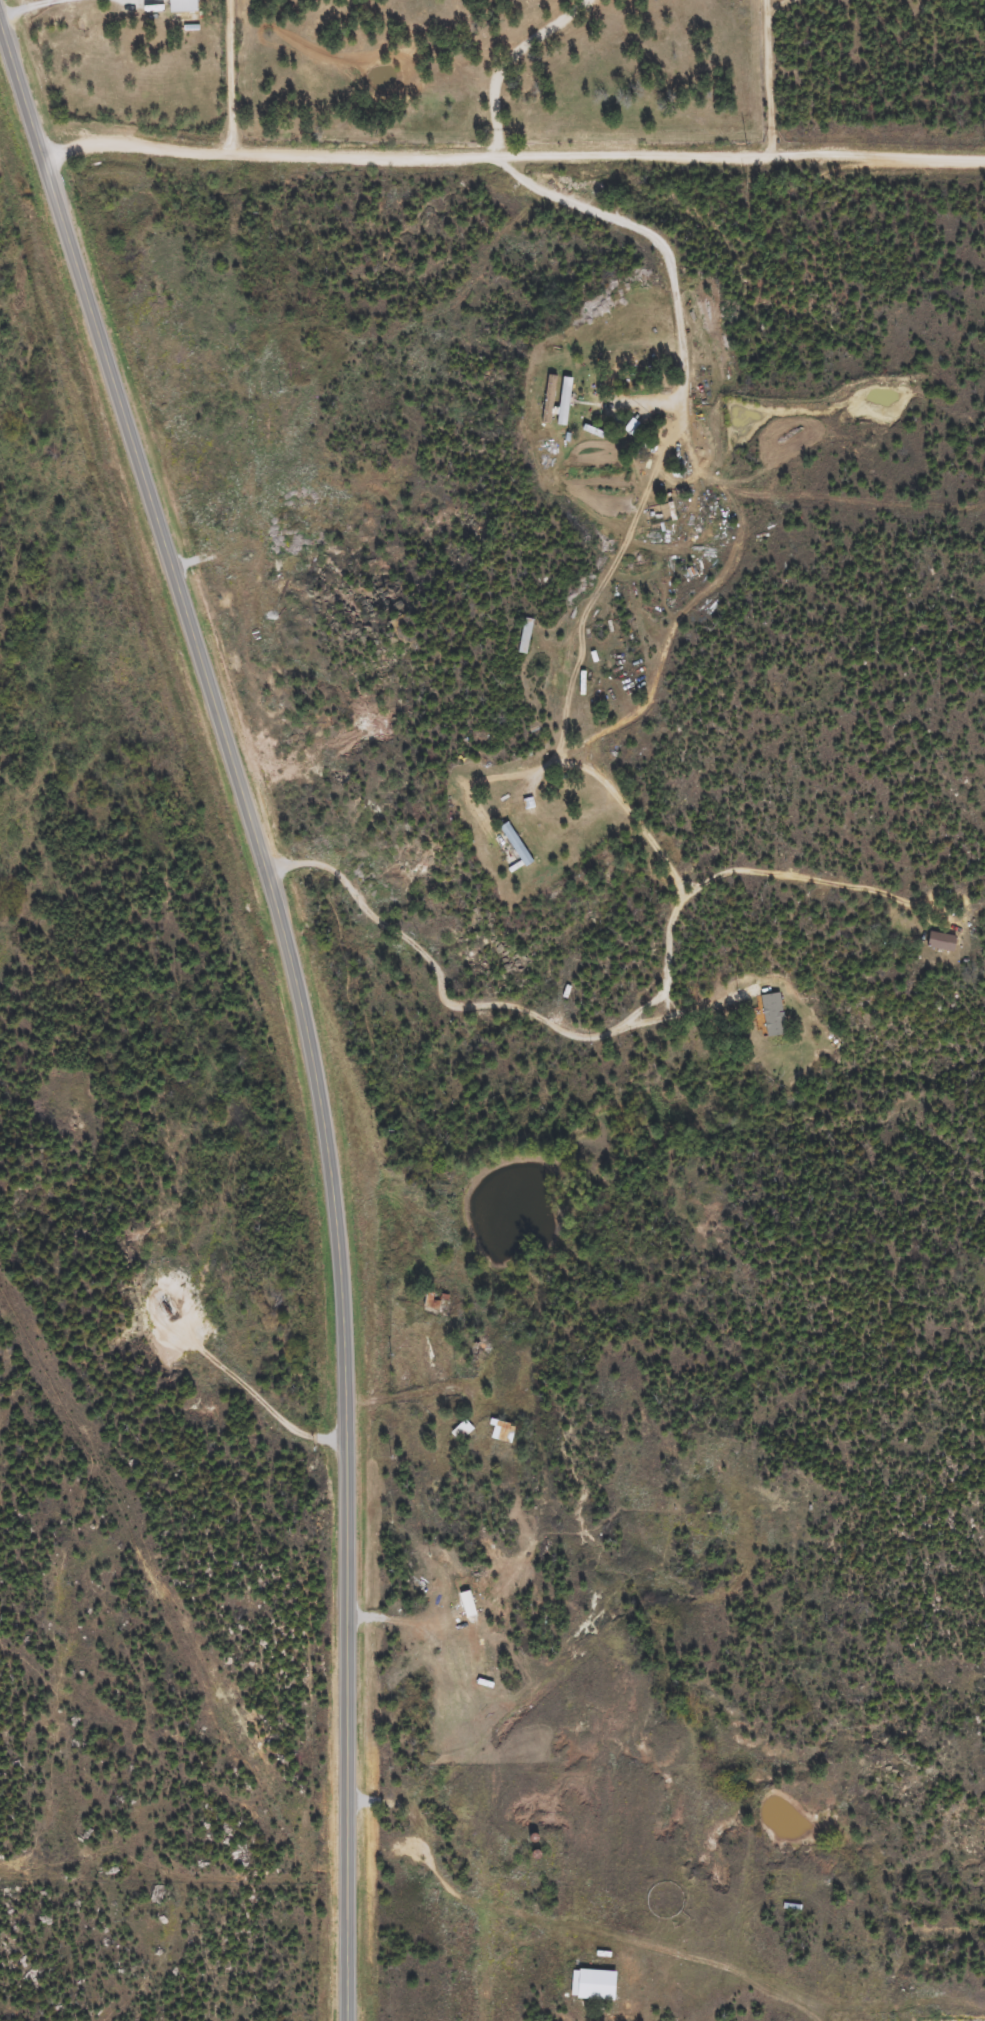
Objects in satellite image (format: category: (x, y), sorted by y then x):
building: (185, 5)
road: (511, 150)
building: (549, 397)
building: (632, 427)
building: (493, 800)
building: (942, 941)
road: (299, 997)
building: (773, 1014)
building: (432, 1302)
building: (461, 1430)
building: (503, 1431)
building: (597, 1984)

